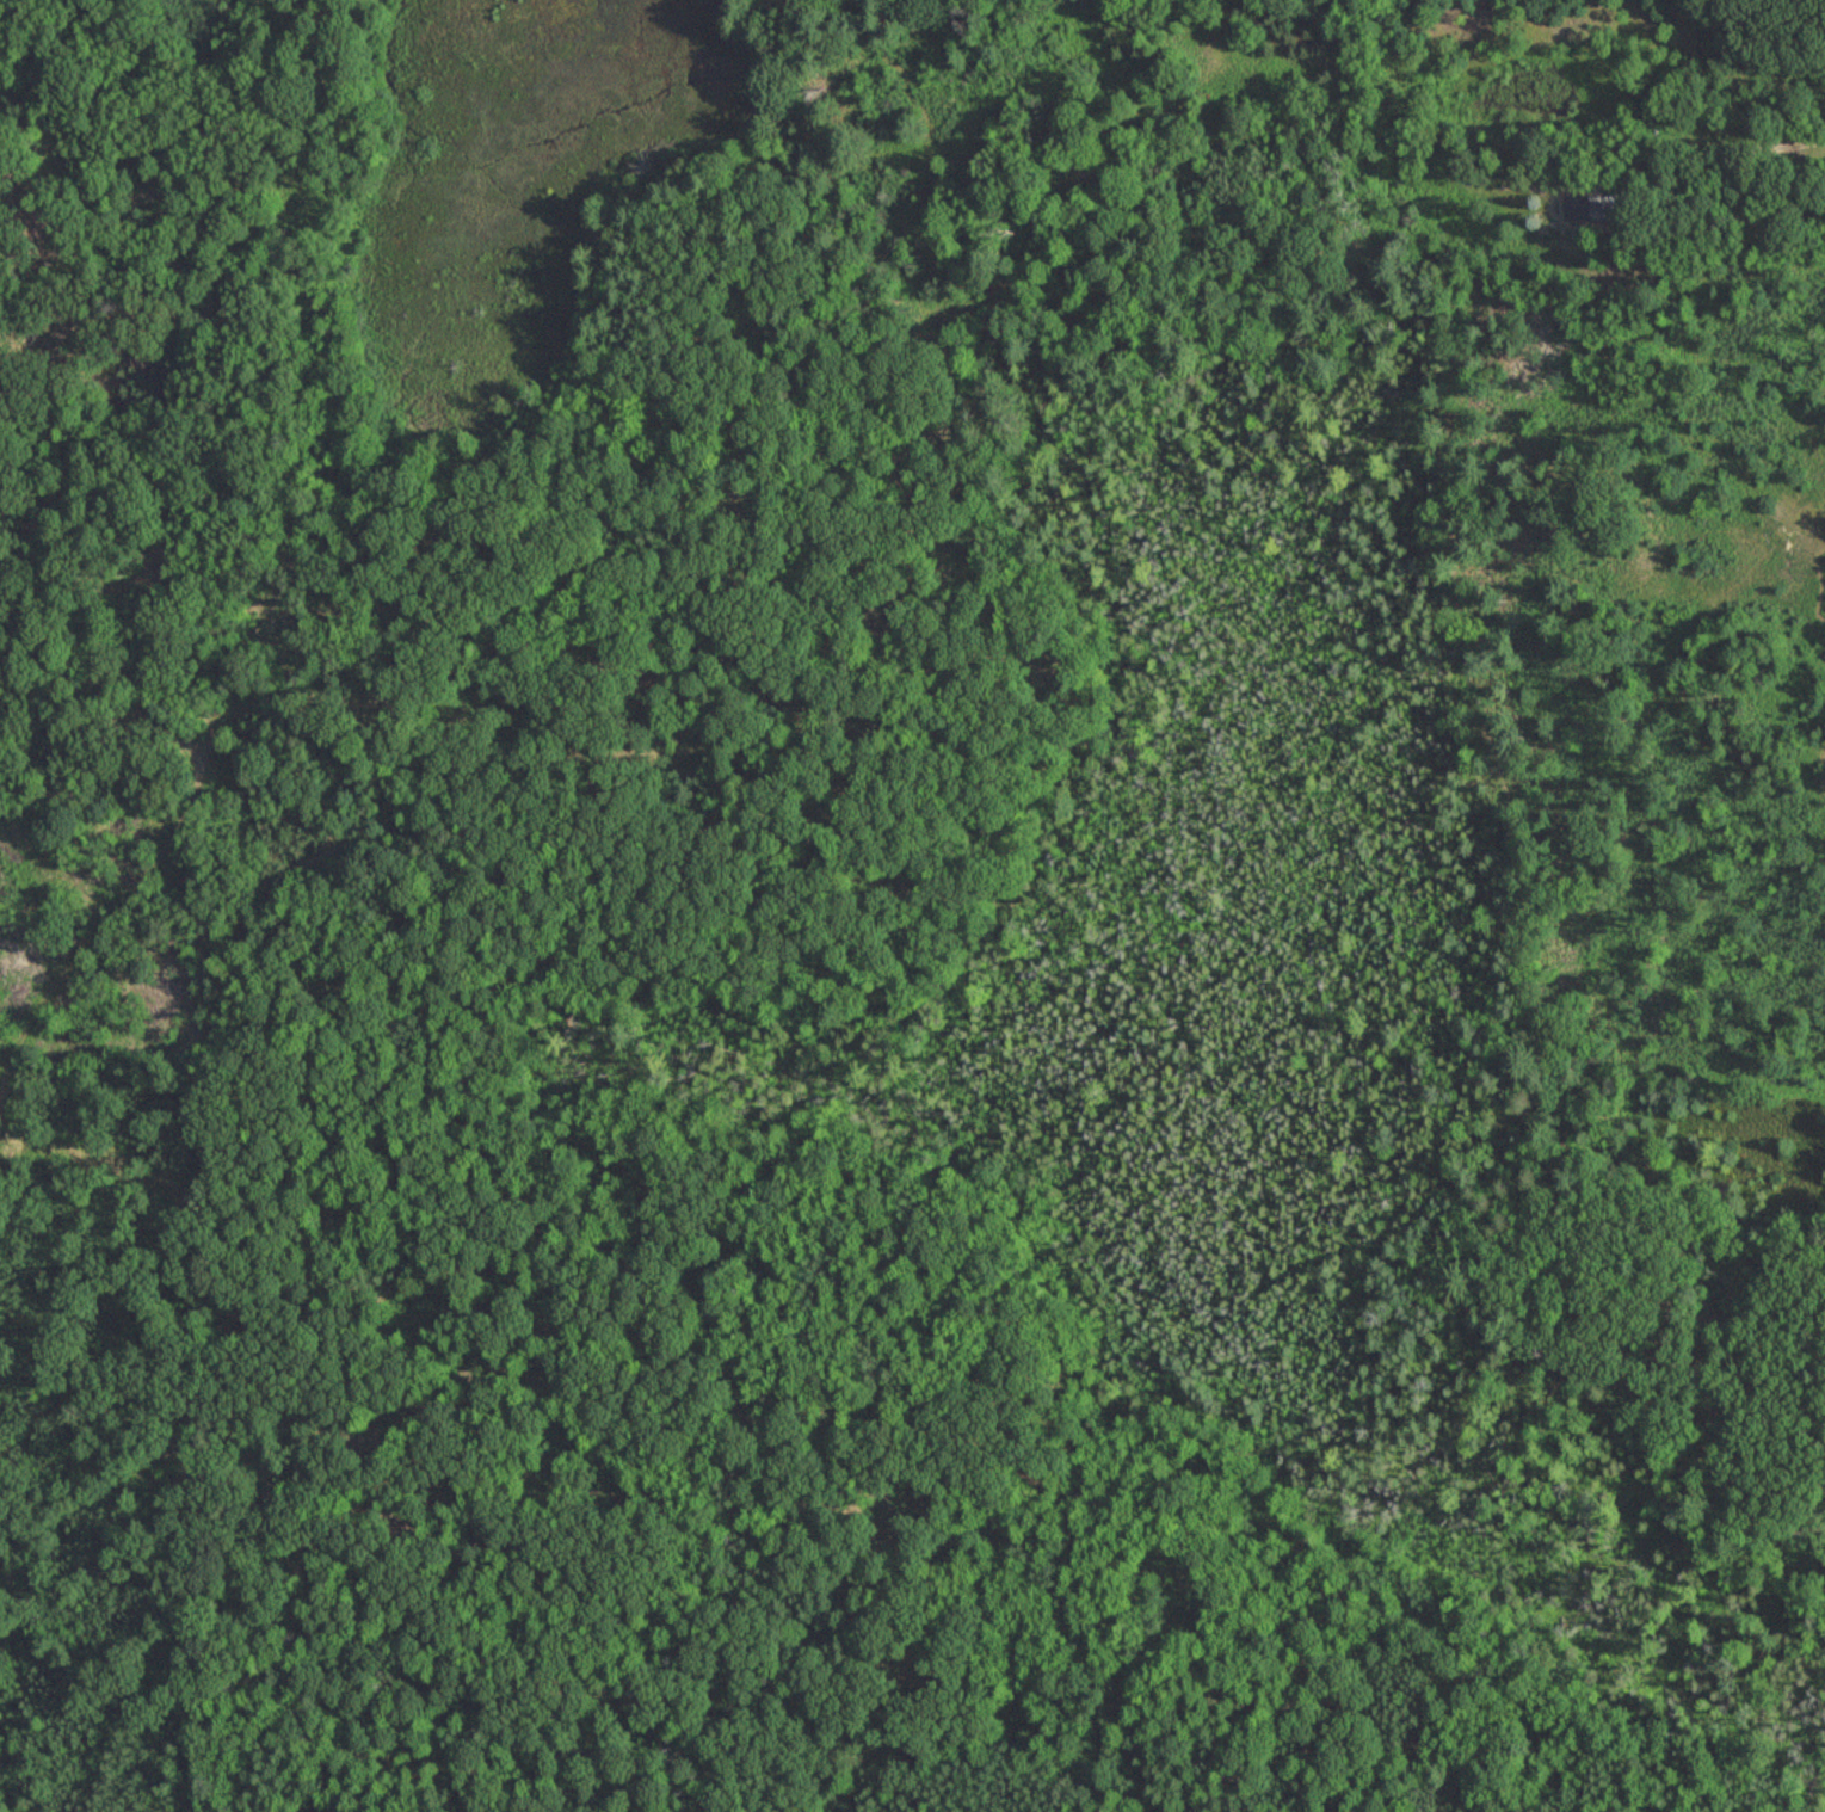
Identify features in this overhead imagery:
building: (1597, 210)

